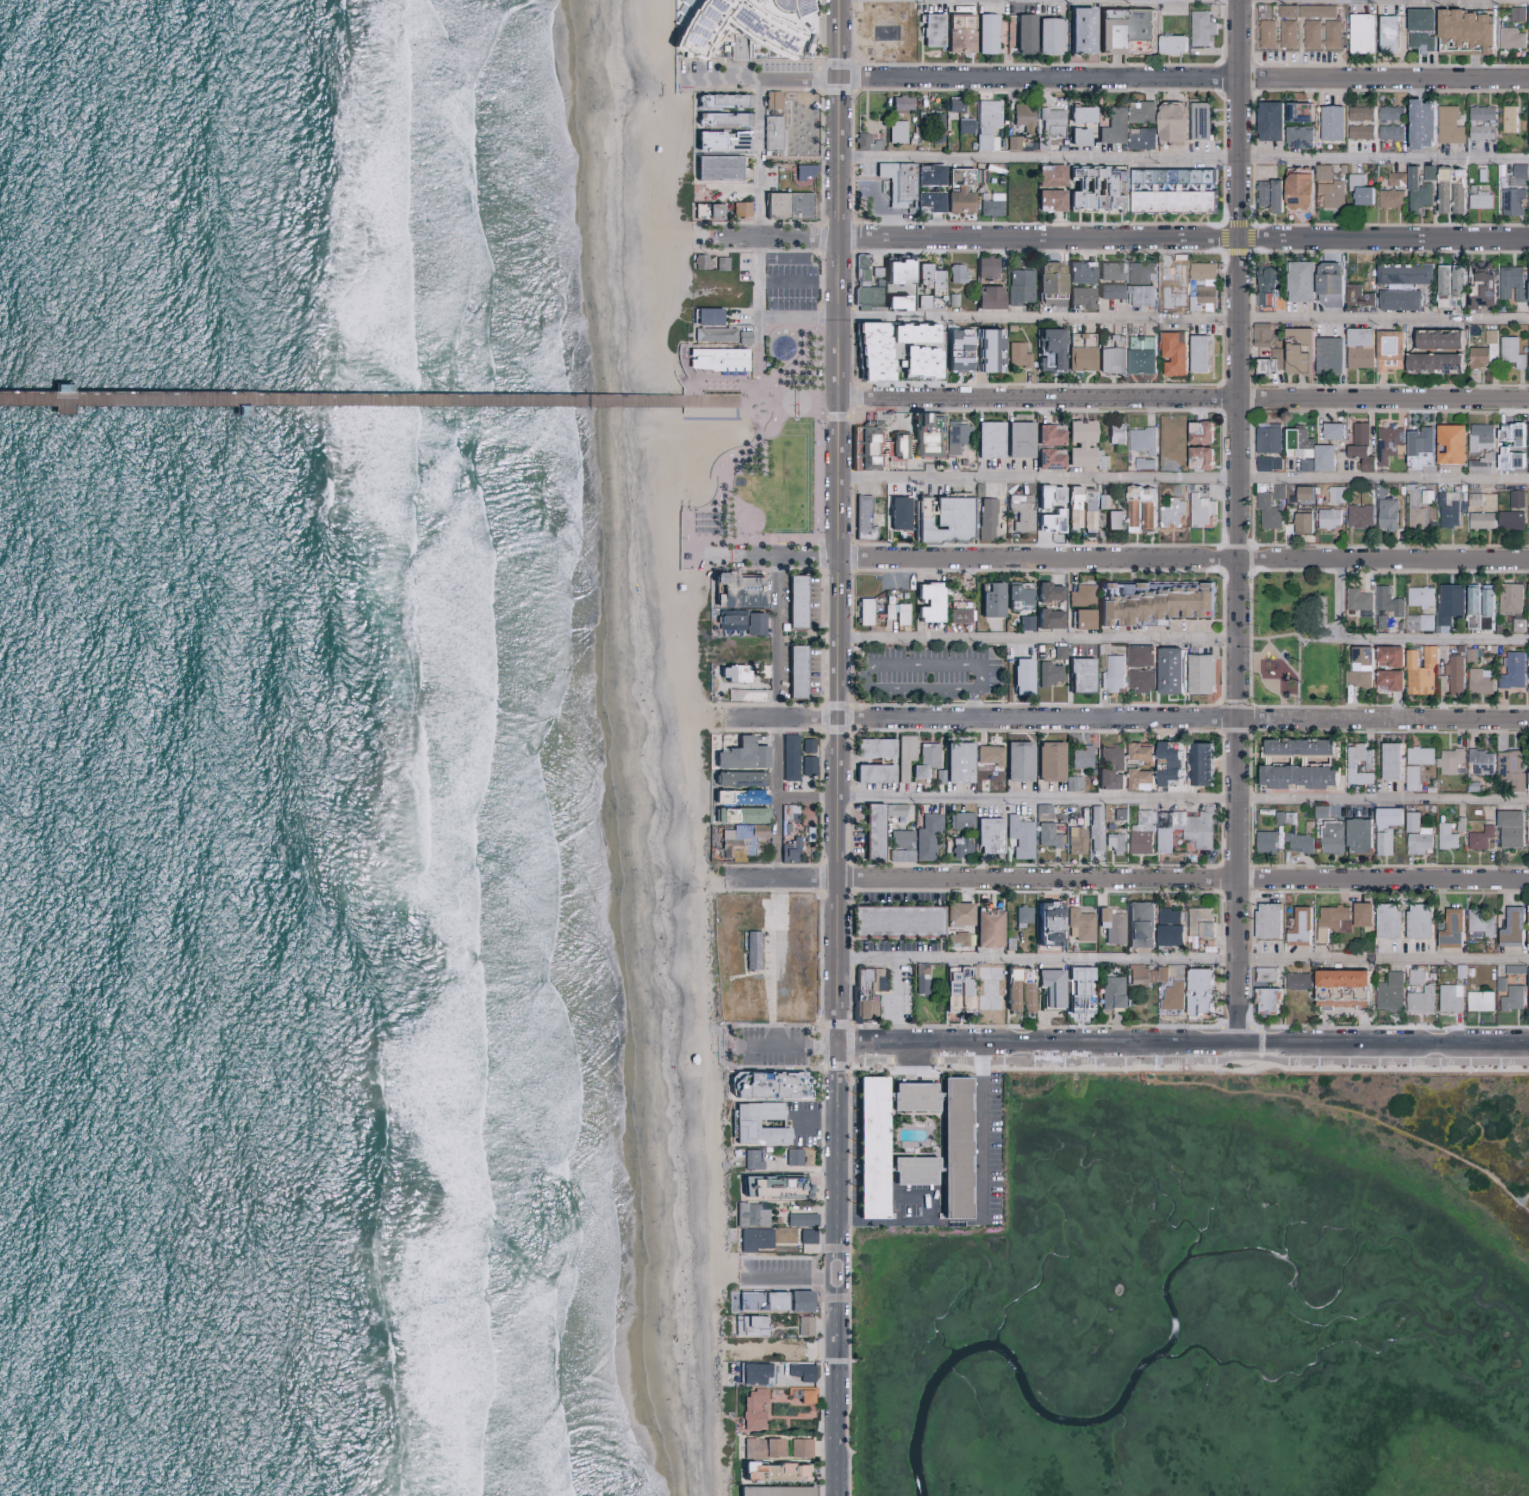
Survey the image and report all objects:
building: (803, 7)
road: (805, 7)
building: (686, 10)
building: (1284, 11)
building: (1314, 11)
building: (1514, 14)
building: (1527, 20)
building: (743, 26)
building: (1198, 28)
building: (1418, 28)
road: (820, 29)
building: (929, 29)
building: (1077, 30)
building: (1462, 31)
park: (885, 33)
building: (956, 33)
building: (983, 33)
building: (1021, 33)
building: (1264, 34)
building: (1285, 34)
building: (1308, 34)
building: (1329, 34)
building: (1358, 34)
building: (1385, 34)
building: (1045, 36)
building: (1507, 38)
building: (1169, 45)
building: (1139, 46)
building: (737, 47)
building: (1527, 47)
road: (1104, 79)
building: (769, 99)
building: (899, 102)
building: (953, 104)
building: (718, 110)
building: (1139, 112)
building: (1295, 112)
building: (1357, 113)
building: (1387, 113)
building: (1078, 114)
building: (1020, 117)
building: (1506, 119)
building: (1197, 121)
building: (1266, 121)
building: (1168, 122)
building: (1328, 123)
building: (1479, 123)
building: (984, 124)
building: (1418, 124)
building: (961, 125)
building: (1446, 125)
building: (1527, 125)
building: (1047, 126)
building: (1111, 126)
building: (894, 131)
building: (1357, 132)
building: (1387, 132)
building: (1075, 136)
building: (768, 137)
building: (1138, 138)
building: (1296, 138)
building: (1474, 146)
road: (760, 158)
road: (1183, 158)
building: (715, 167)
building: (802, 171)
building: (1426, 173)
building: (926, 175)
building: (1047, 175)
building: (1516, 175)
building: (1394, 179)
building: (905, 183)
building: (1325, 187)
road: (737, 190)
building: (1168, 190)
building: (1295, 190)
building: (1356, 190)
building: (892, 191)
building: (956, 191)
building: (1448, 191)
building: (1414, 192)
building: (1266, 195)
building: (1528, 197)
building: (1048, 199)
building: (1387, 199)
building: (927, 200)
building: (1478, 200)
building: (1508, 201)
building: (784, 205)
building: (989, 205)
building: (739, 208)
road: (882, 210)
building: (713, 211)
road: (1144, 236)
road: (727, 237)
building: (697, 261)
building: (718, 263)
building: (984, 267)
building: (892, 271)
building: (1107, 271)
building: (1200, 271)
building: (1139, 272)
building: (953, 273)
building: (1076, 273)
building: (1401, 274)
building: (925, 276)
parking lot: (787, 280)
road: (799, 282)
building: (1174, 282)
building: (1296, 282)
building: (1046, 284)
building: (1508, 284)
building: (862, 285)
building: (1326, 285)
building: (1263, 286)
building: (1526, 286)
building: (1017, 287)
building: (1480, 288)
building: (1107, 291)
building: (1139, 296)
building: (1354, 296)
building: (1077, 297)
building: (1199, 297)
building: (986, 298)
building: (1396, 300)
building: (925, 301)
building: (891, 303)
road: (747, 316)
building: (704, 317)
road: (1144, 317)
road: (759, 320)
building: (907, 333)
building: (712, 334)
building: (1258, 335)
building: (1487, 336)
building: (1436, 339)
building: (1356, 348)
building: (985, 350)
building: (1046, 350)
building: (1386, 350)
building: (868, 352)
building: (953, 352)
building: (1077, 352)
building: (1295, 352)
building: (1508, 352)
building: (1107, 353)
building: (1170, 353)
building: (1196, 354)
building: (1015, 355)
building: (1138, 355)
building: (1325, 356)
building: (1527, 356)
building: (1475, 357)
building: (719, 360)
building: (915, 362)
building: (1269, 362)
building: (1431, 363)
flagpole: (1096, 379)
building: (65, 387)
road: (1183, 398)
road: (370, 401)
road: (794, 403)
road: (736, 408)
building: (1330, 431)
park: (749, 433)
building: (1112, 433)
building: (1197, 433)
building: (1167, 434)
building: (955, 435)
building: (1046, 435)
building: (1478, 437)
building: (985, 439)
building: (1016, 439)
building: (1265, 439)
building: (1139, 440)
building: (1527, 441)
building: (1295, 443)
building: (1385, 443)
building: (1077, 445)
building: (1447, 445)
building: (1358, 447)
building: (1417, 448)
building: (1046, 459)
building: (1169, 460)
building: (1317, 460)
building: (1507, 460)
building: (1141, 464)
building: (1265, 464)
building: (1478, 464)
road: (1182, 478)
building: (1275, 492)
building: (1301, 493)
building: (1333, 495)
building: (1513, 499)
building: (1471, 500)
building: (919, 507)
building: (1077, 508)
building: (1137, 508)
building: (1415, 508)
building: (1197, 510)
building: (1019, 511)
building: (1265, 512)
building: (896, 513)
building: (1169, 514)
building: (1384, 515)
building: (1356, 517)
building: (860, 518)
building: (1326, 518)
building: (983, 519)
building: (946, 520)
building: (1110, 520)
building: (1508, 520)
building: (1478, 521)
building: (1300, 522)
building: (1527, 522)
road: (837, 524)
road: (1238, 524)
building: (1046, 525)
road: (685, 551)
road: (1130, 558)
building: (732, 587)
building: (1046, 592)
building: (1016, 593)
building: (1079, 596)
building: (1417, 597)
road: (1338, 599)
building: (1507, 599)
building: (1470, 600)
building: (792, 601)
building: (988, 601)
building: (1484, 601)
building: (925, 602)
building: (1355, 602)
building: (1385, 602)
building: (1149, 603)
building: (1526, 604)
building: (1445, 605)
building: (862, 611)
building: (894, 613)
building: (953, 615)
building: (1046, 619)
building: (1080, 619)
building: (728, 622)
building: (1023, 623)
building: (1415, 623)
building: (751, 624)
building: (1515, 625)
road: (1289, 635)
road: (779, 636)
road: (1037, 638)
road: (1433, 639)
park: (1294, 642)
building: (1056, 652)
building: (1387, 656)
building: (1137, 657)
road: (1282, 658)
road: (867, 664)
building: (1357, 668)
building: (1417, 670)
building: (1510, 671)
building: (1527, 671)
building: (792, 672)
parking lot: (931, 672)
building: (1167, 672)
building: (729, 674)
building: (1046, 674)
building: (1109, 674)
building: (1197, 674)
building: (1451, 674)
building: (1078, 675)
building: (1018, 676)
building: (1138, 680)
road: (1298, 680)
building: (1386, 681)
building: (1477, 681)
road: (976, 703)
road: (754, 716)
road: (1154, 718)
building: (805, 745)
building: (1295, 746)
building: (871, 747)
building: (1136, 751)
building: (737, 754)
building: (986, 754)
building: (1077, 755)
building: (1417, 755)
building: (786, 756)
building: (1108, 756)
building: (922, 760)
building: (954, 760)
building: (1015, 760)
building: (1046, 760)
building: (1387, 760)
building: (1447, 760)
building: (1478, 761)
building: (1164, 763)
building: (1198, 763)
building: (1355, 764)
building: (805, 765)
building: (1508, 768)
building: (870, 772)
building: (1294, 775)
building: (734, 777)
building: (1106, 778)
building: (1136, 778)
building: (1409, 778)
building: (1526, 780)
building: (744, 796)
road: (778, 796)
road: (1153, 797)
building: (1317, 812)
building: (735, 813)
building: (957, 819)
building: (1092, 827)
building: (1191, 827)
building: (1383, 828)
building: (1507, 828)
building: (870, 831)
building: (986, 834)
building: (1414, 834)
building: (1045, 835)
building: (1355, 835)
building: (1528, 835)
building: (1017, 836)
building: (1328, 836)
building: (738, 837)
building: (925, 837)
building: (1443, 837)
building: (1073, 838)
building: (1477, 838)
building: (1161, 840)
building: (1111, 841)
building: (1262, 841)
building: (898, 845)
building: (958, 845)
road: (1129, 880)
building: (954, 913)
building: (1358, 914)
building: (1020, 915)
building: (1526, 915)
building: (1166, 916)
building: (892, 920)
building: (1264, 920)
building: (1329, 920)
building: (1384, 920)
building: (1415, 920)
building: (1477, 921)
building: (1043, 922)
building: (1197, 922)
building: (1076, 924)
building: (1137, 924)
building: (1107, 925)
building: (985, 927)
building: (1296, 927)
building: (1509, 927)
building: (1448, 929)
building: (1166, 934)
building: (1526, 935)
building: (955, 939)
building: (749, 949)
road: (1182, 958)
road: (774, 963)
building: (1144, 974)
building: (1262, 974)
building: (1338, 977)
building: (1412, 977)
building: (918, 978)
building: (1294, 981)
building: (954, 986)
building: (1047, 986)
building: (1526, 987)
building: (865, 989)
building: (1014, 989)
building: (1196, 990)
building: (1108, 992)
building: (1387, 992)
building: (1076, 993)
building: (1170, 996)
building: (1339, 996)
building: (1263, 998)
building: (1447, 998)
building: (1509, 998)
building: (1418, 1000)
building: (1476, 1000)
road: (894, 1011)
parking lot: (771, 1047)
road: (1182, 1048)
road: (788, 1049)
road: (1182, 1073)
building: (769, 1085)
building: (908, 1095)
road: (1349, 1110)
road: (812, 1123)
building: (748, 1124)
parking lot: (802, 1126)
road: (981, 1135)
building: (866, 1146)
building: (949, 1146)
building: (795, 1158)
building: (753, 1161)
building: (908, 1169)
building: (775, 1186)
road: (1525, 1202)
building: (753, 1215)
building: (804, 1221)
road: (910, 1221)
building: (810, 1237)
building: (757, 1240)
road: (835, 1272)
parking lot: (776, 1273)
road: (787, 1274)
building: (764, 1301)
building: (802, 1301)
building: (752, 1326)
building: (807, 1326)
building: (755, 1349)
building: (790, 1353)
building: (798, 1371)
building: (749, 1373)
building: (798, 1394)
building: (750, 1408)
river: (1094, 1419)
building: (760, 1447)
building: (797, 1447)
building: (768, 1471)
building: (771, 1490)

